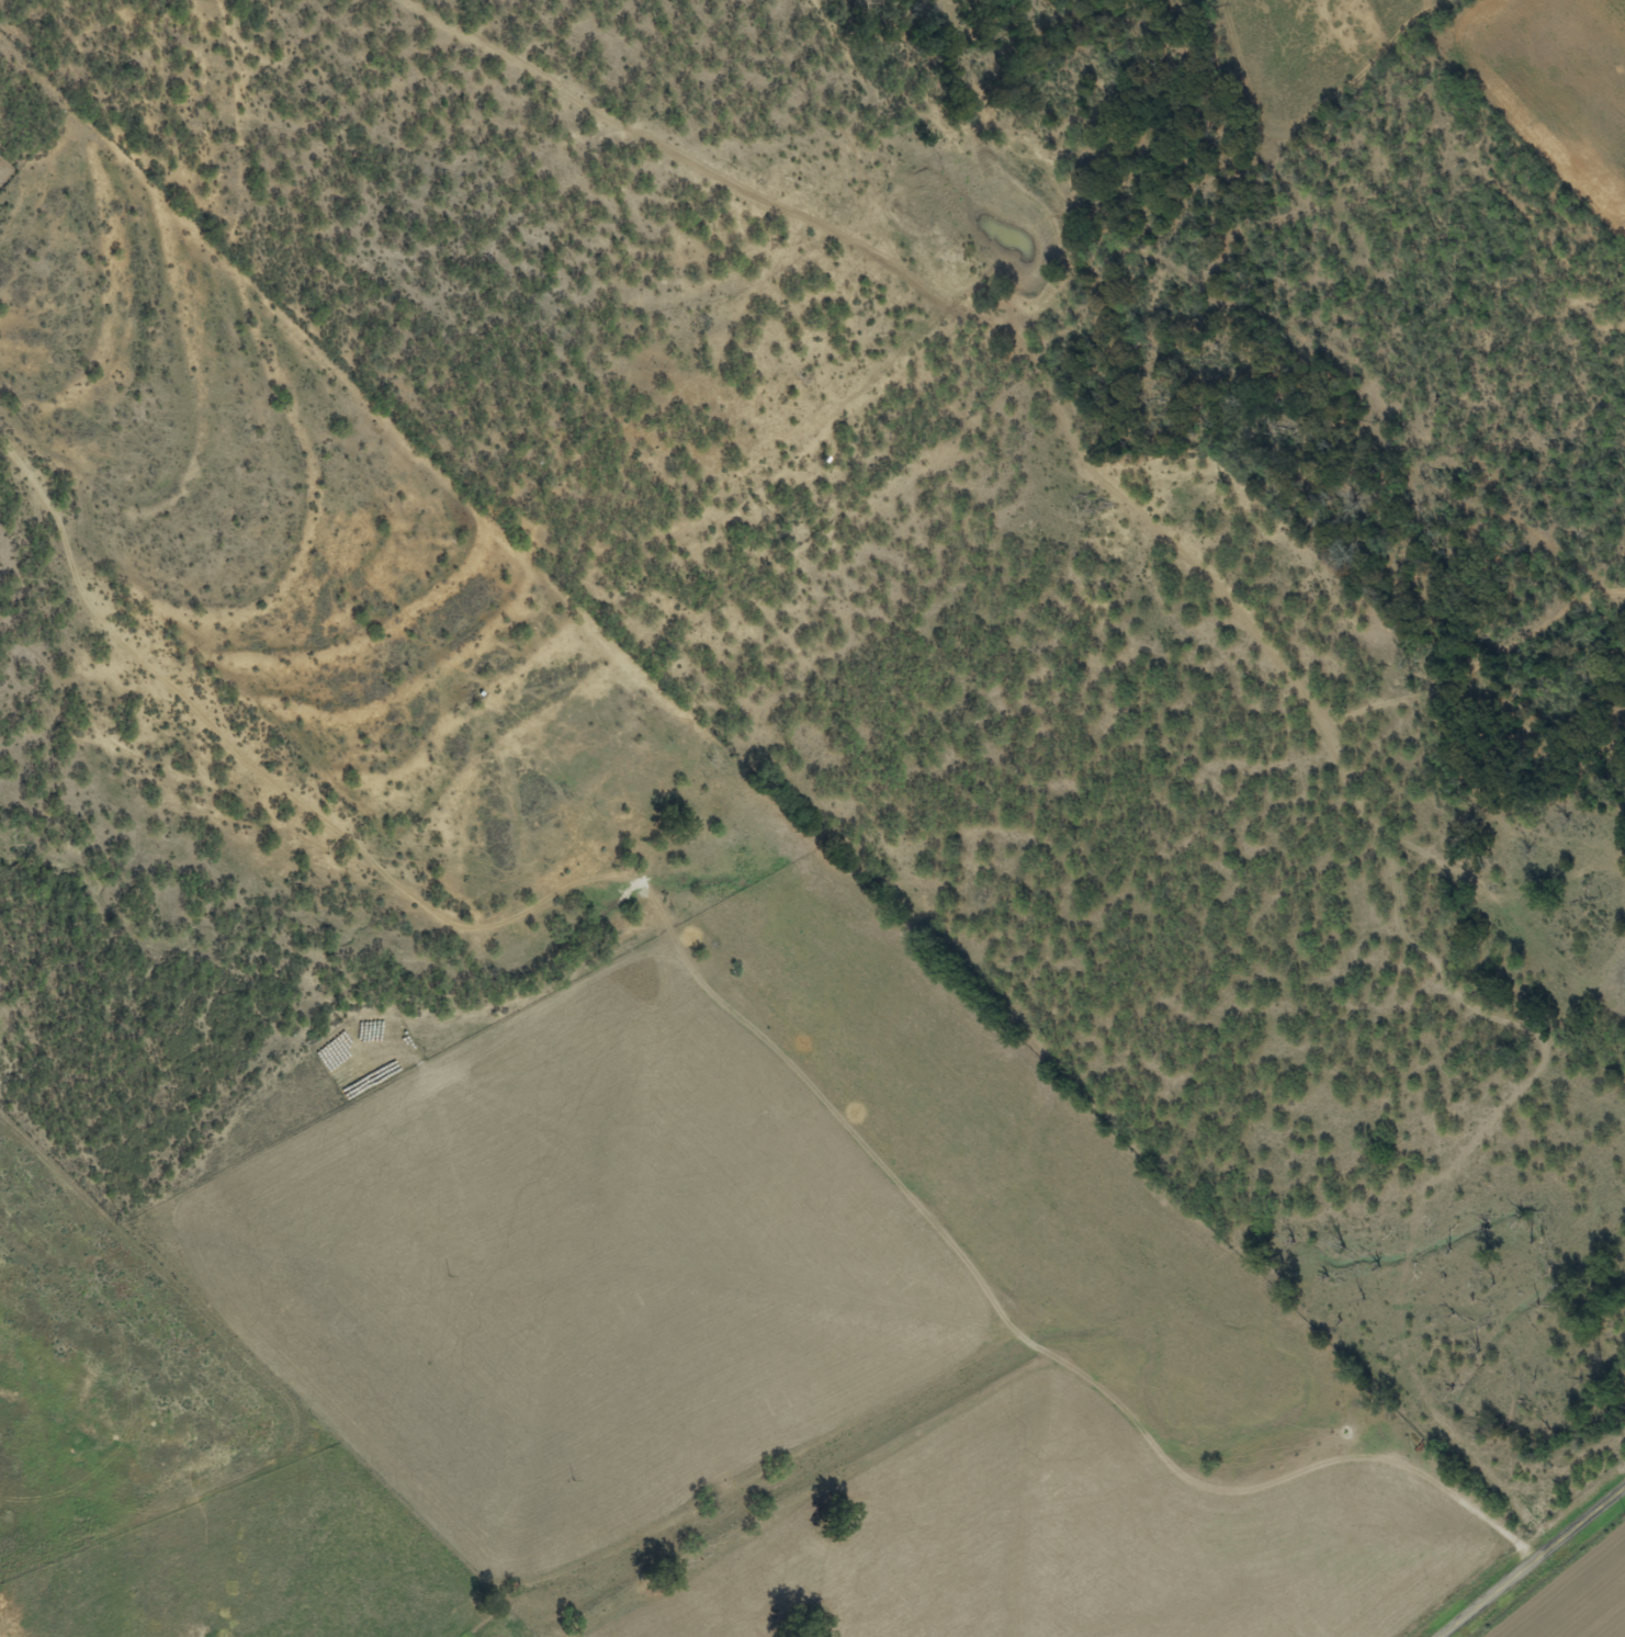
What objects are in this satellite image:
road: (1531, 1560)

